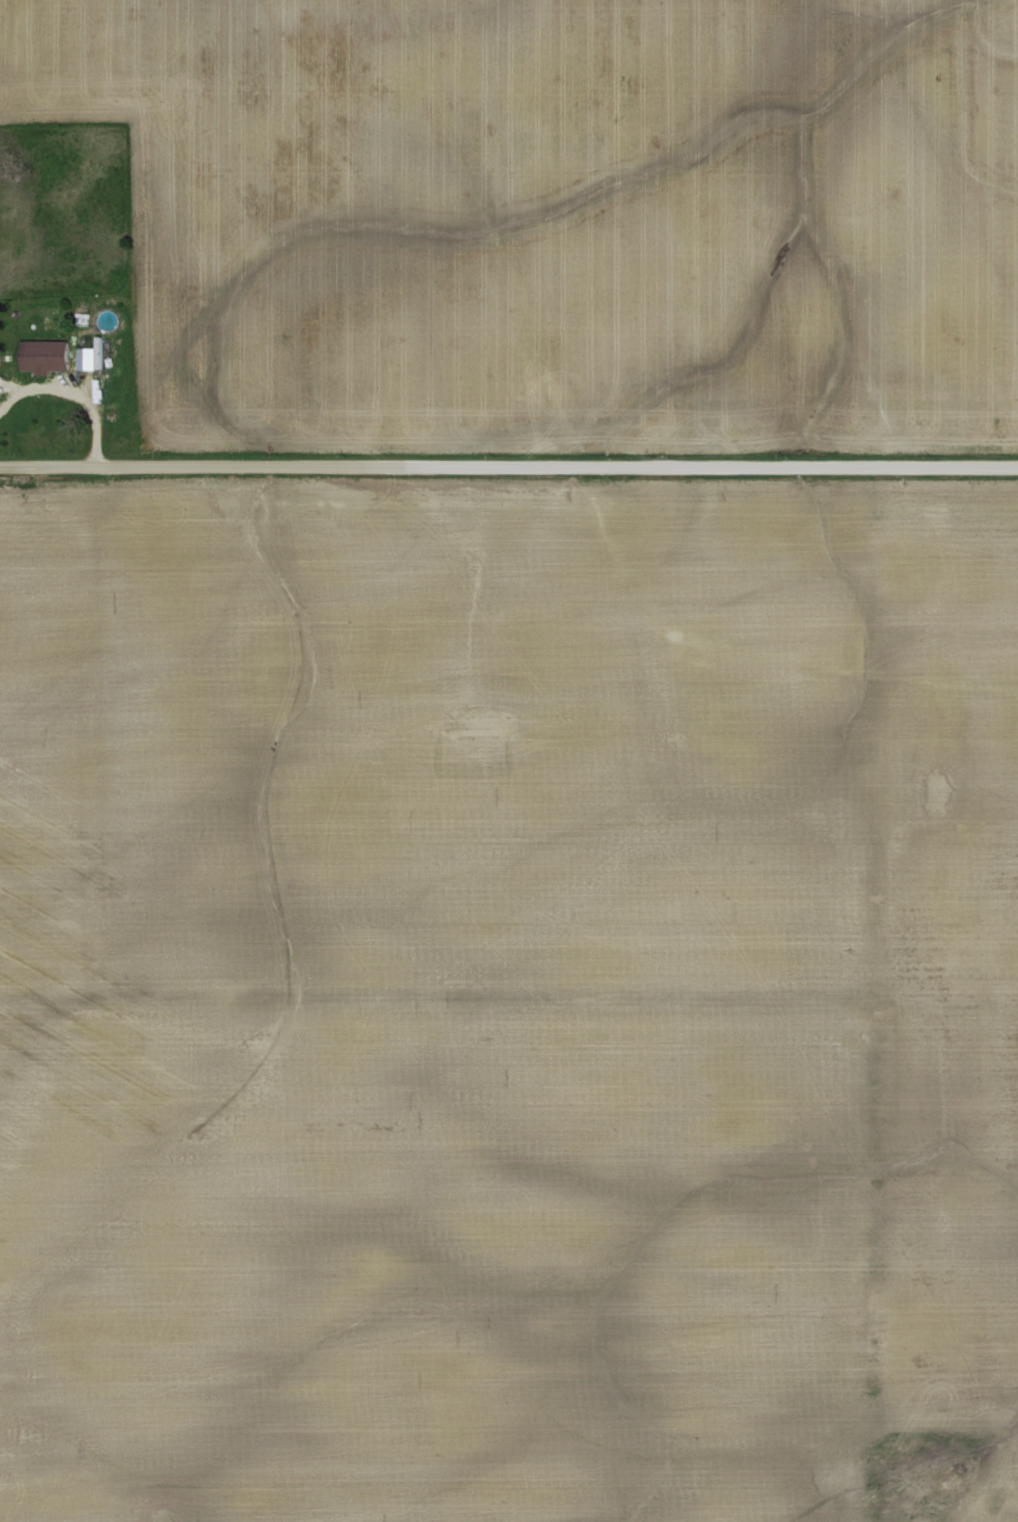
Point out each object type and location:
road: (508, 466)

